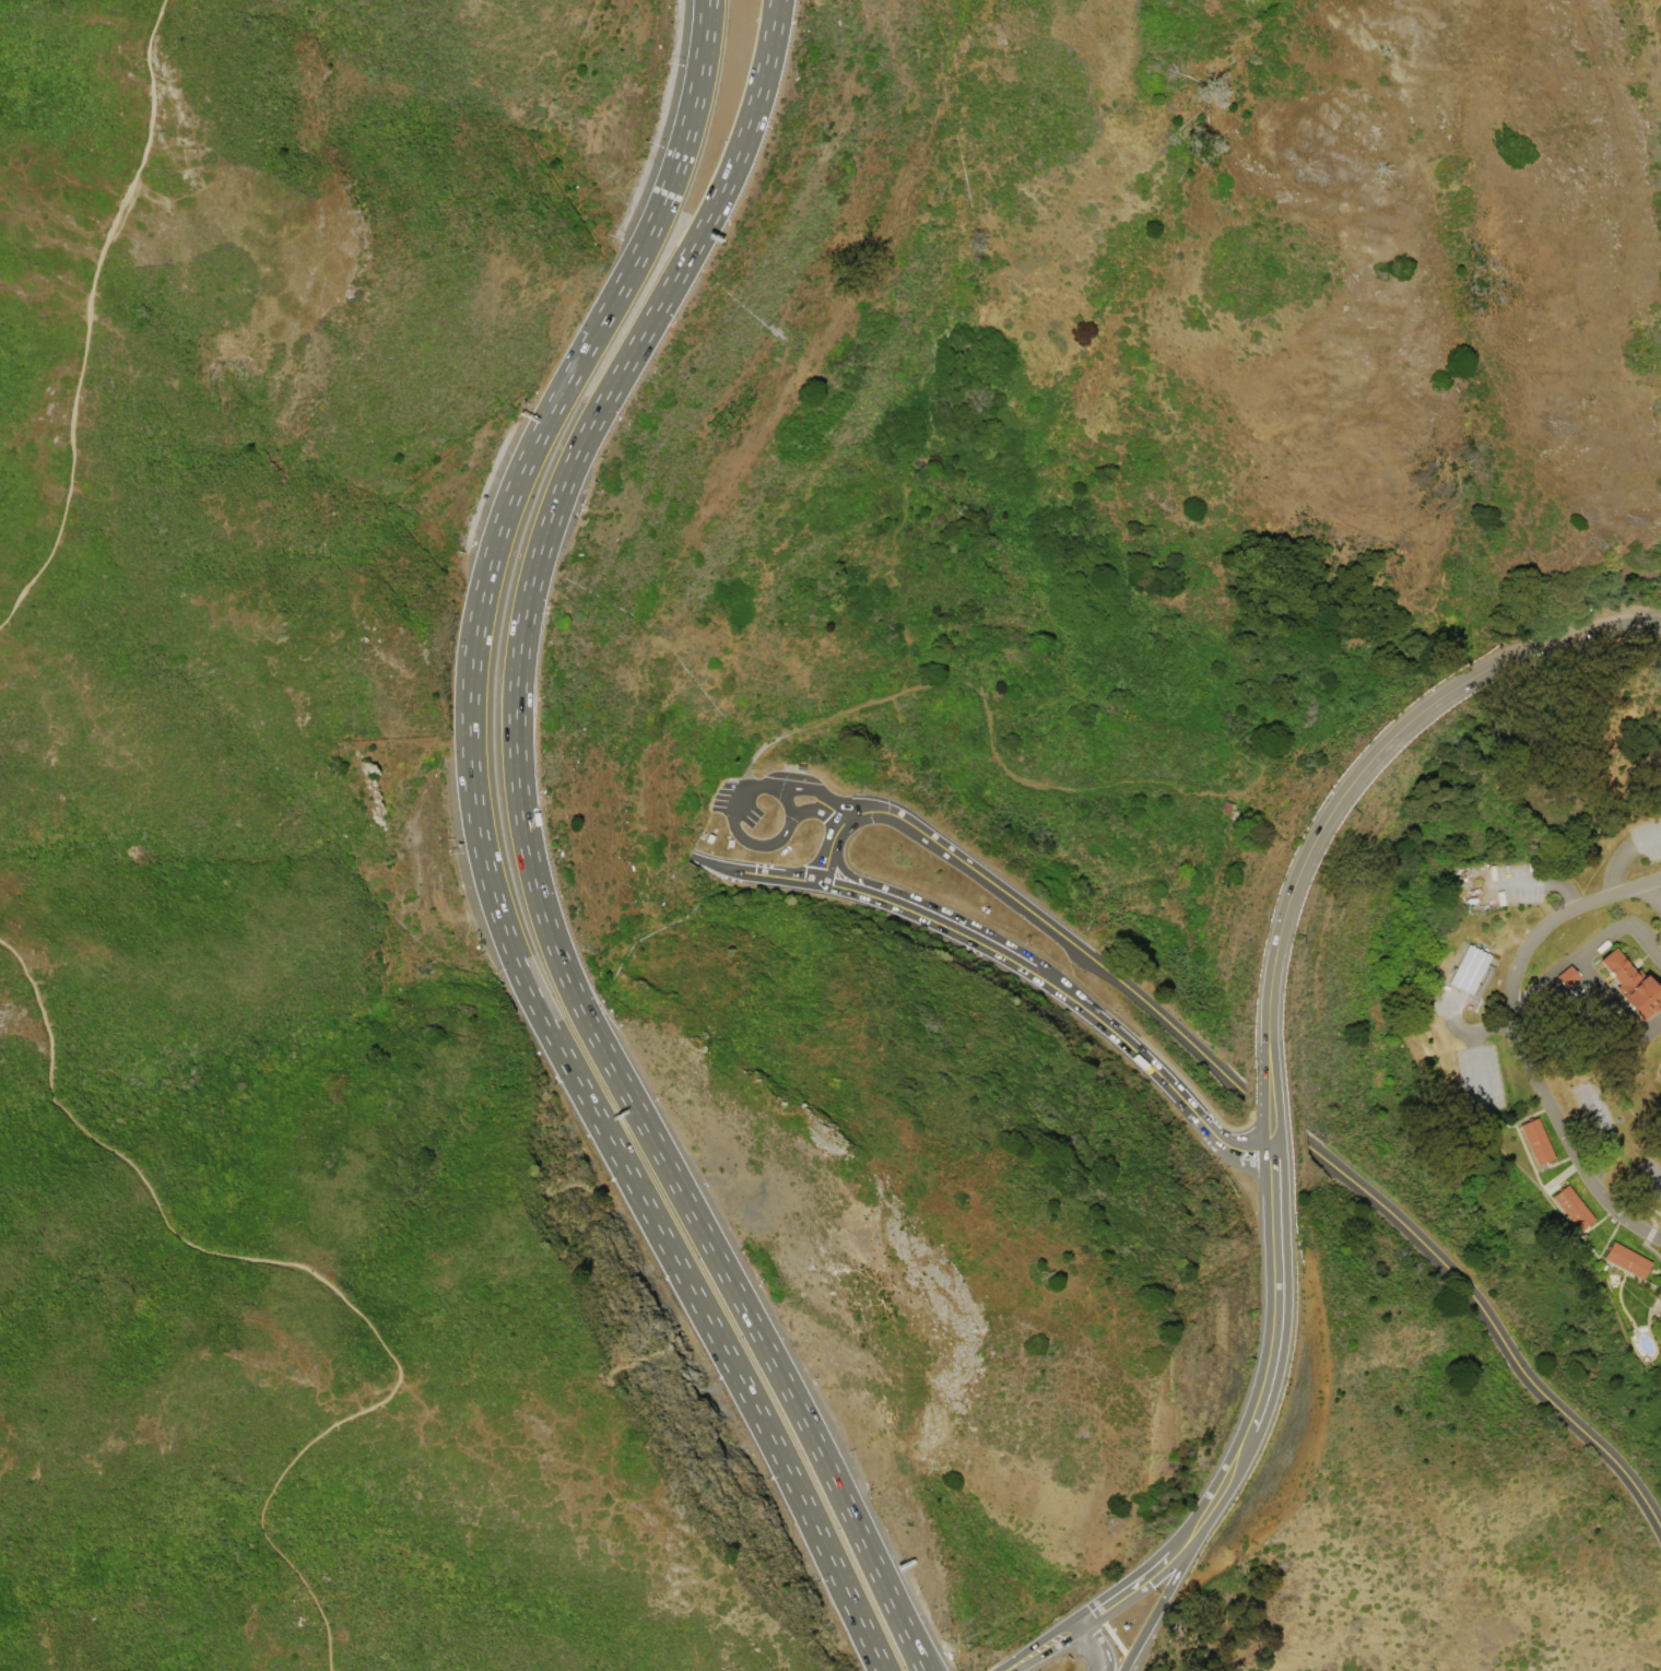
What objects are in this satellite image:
road: (85, 314)
road: (991, 733)
road: (750, 764)
building: (799, 766)
road: (806, 788)
road: (1343, 793)
parking lot: (734, 802)
building: (1225, 805)
road: (810, 810)
road: (841, 815)
building: (708, 837)
road: (1645, 837)
parking lot: (1647, 837)
road: (751, 842)
road: (527, 854)
road: (483, 858)
road: (1612, 866)
road: (754, 871)
traffic signals: (758, 872)
road: (1541, 880)
road: (1650, 893)
road: (1027, 908)
road: (939, 919)
road: (1646, 940)
building: (1468, 968)
building: (1566, 976)
building: (1630, 981)
road: (1592, 993)
road: (1519, 1042)
road: (1471, 1047)
road: (1157, 1072)
building: (1536, 1141)
road: (1272, 1172)
building: (1572, 1209)
road: (1275, 1242)
building: (1626, 1260)
road: (318, 1275)
road: (1495, 1321)
road: (1260, 1403)
road: (1157, 1565)
road: (1166, 1589)
road: (1087, 1615)
road: (911, 1636)
road: (1115, 1640)
road: (1100, 1641)
road: (1040, 1645)
road: (1088, 1645)

